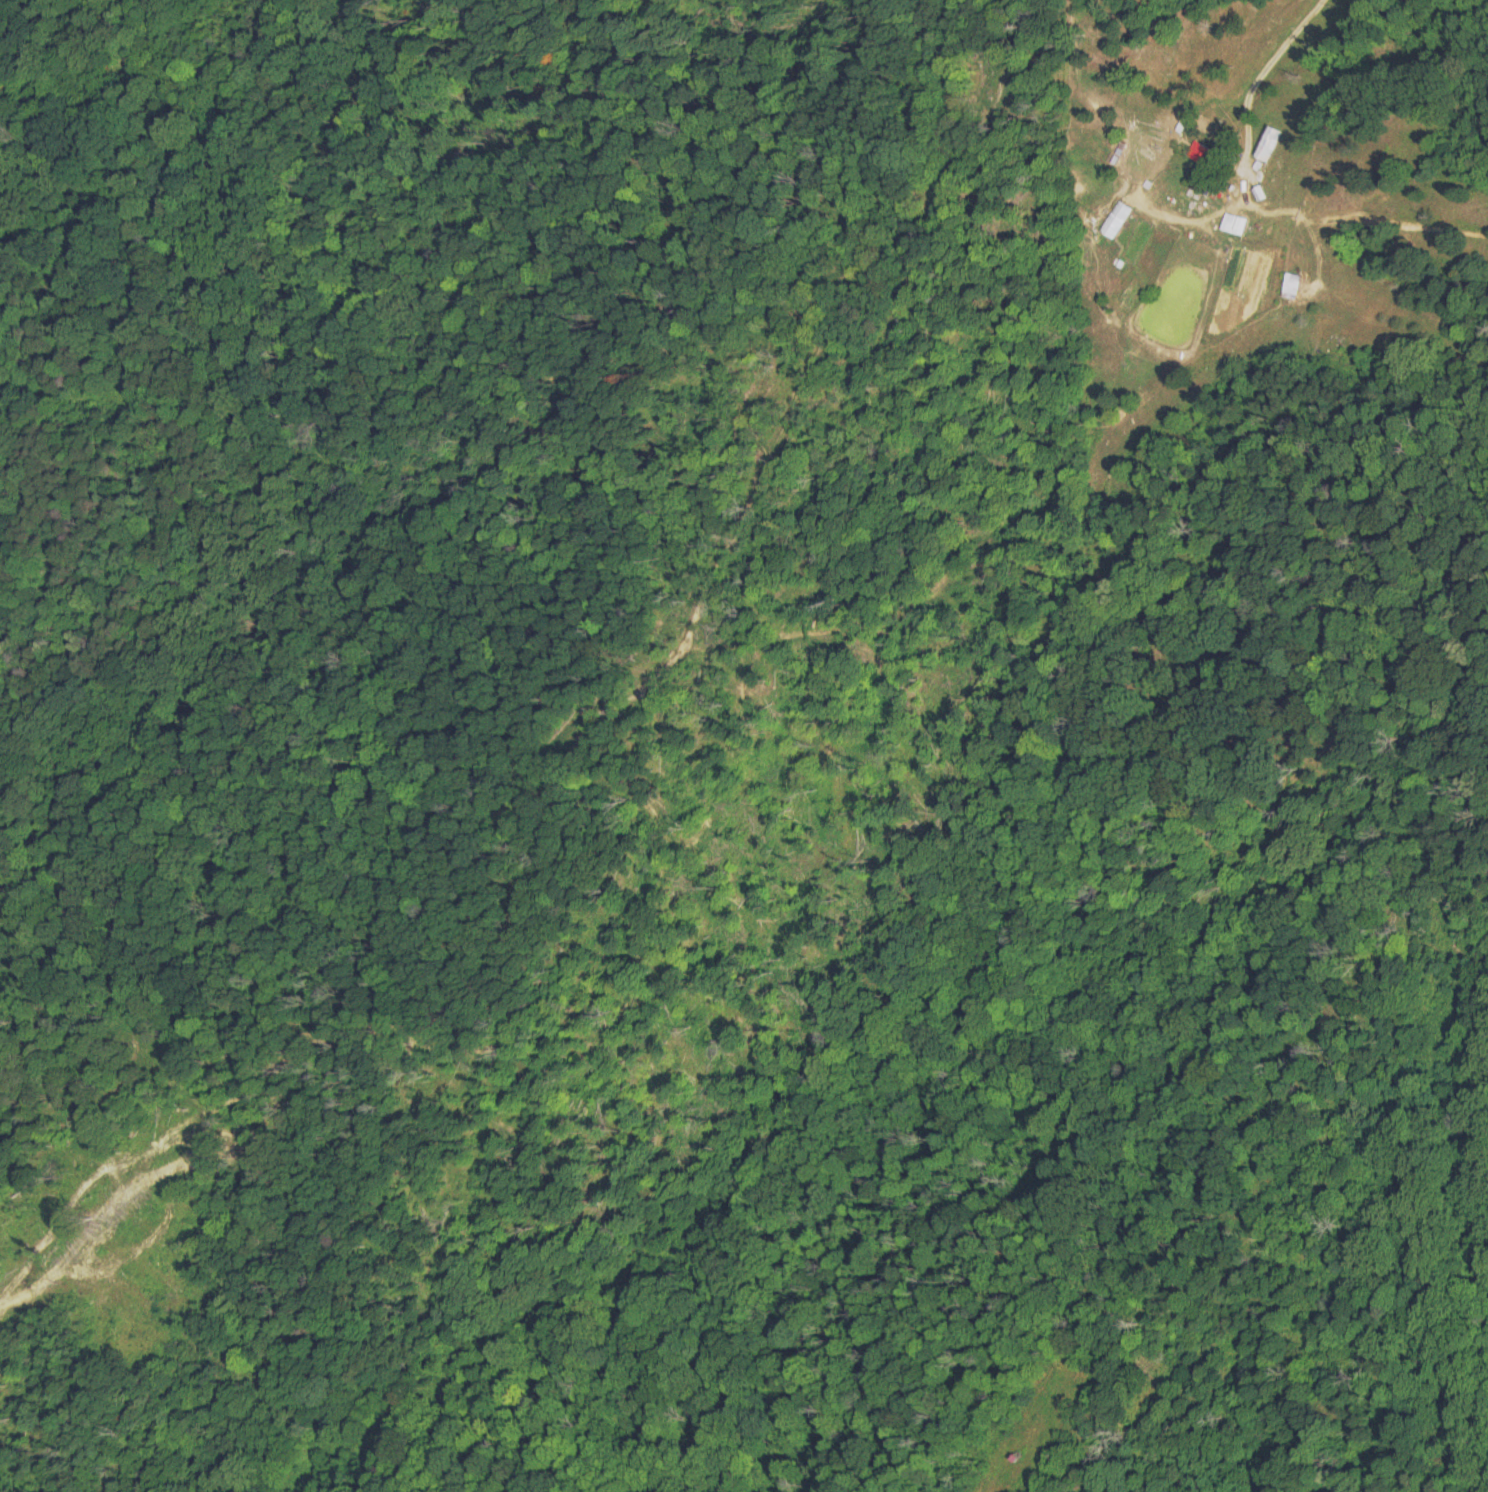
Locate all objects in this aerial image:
building: (1267, 144)
building: (1200, 155)
building: (1114, 219)
building: (1290, 285)

